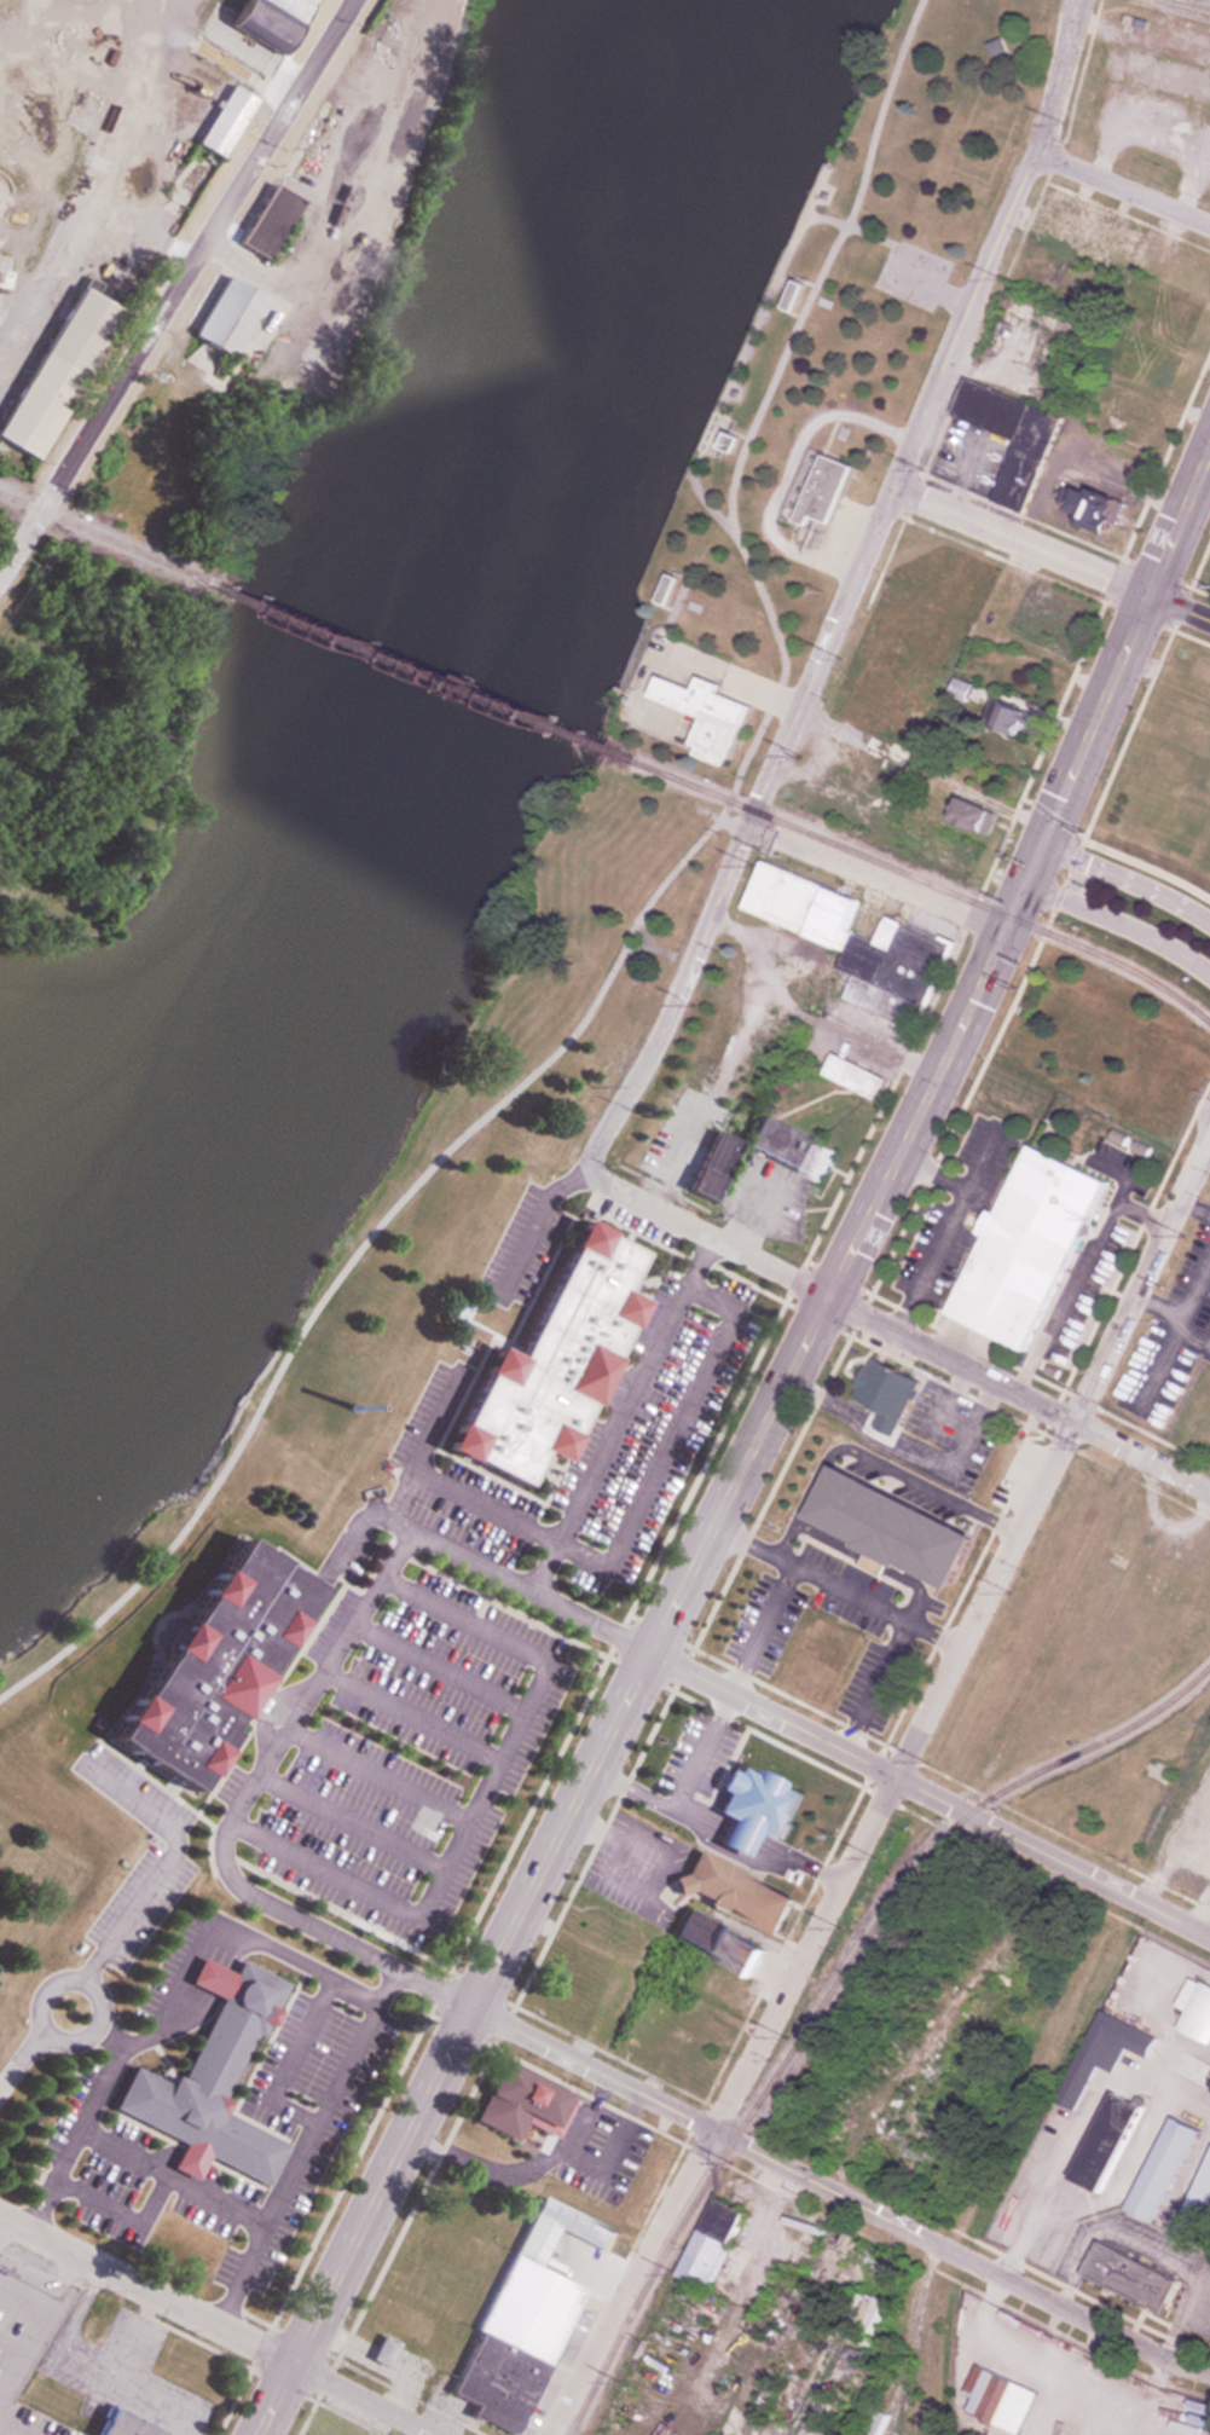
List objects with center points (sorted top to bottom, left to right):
building: (265, 21)
building: (997, 48)
building: (1168, 76)
building: (222, 122)
railway: (91, 129)
road: (1124, 190)
road: (816, 191)
building: (265, 222)
road: (869, 233)
parking lot: (913, 273)
road: (175, 289)
road: (936, 290)
building: (793, 295)
park: (852, 308)
building: (224, 318)
road: (745, 357)
building: (53, 371)
building: (1032, 372)
building: (729, 443)
building: (1116, 459)
road: (791, 470)
building: (1020, 472)
building: (822, 492)
building: (1088, 510)
railway: (102, 537)
road: (1021, 542)
building: (668, 590)
road: (849, 591)
road: (1180, 609)
road: (677, 615)
building: (922, 631)
road: (678, 655)
railway: (416, 670)
river: (427, 713)
building: (707, 716)
building: (1005, 721)
park: (658, 750)
building: (966, 816)
road: (736, 823)
railway: (925, 881)
road: (1128, 881)
road: (878, 885)
road: (637, 925)
road: (1121, 926)
road: (645, 935)
building: (850, 941)
road: (658, 950)
building: (851, 1076)
building: (786, 1147)
road: (974, 1156)
building: (708, 1167)
road: (528, 1215)
road: (939, 1225)
building: (1023, 1248)
road: (1072, 1263)
road: (1140, 1283)
park: (366, 1306)
road: (899, 1331)
building: (543, 1360)
building: (882, 1396)
chimney: (352, 1406)
road: (616, 1409)
road: (753, 1453)
building: (985, 1491)
road: (370, 1581)
building: (922, 1600)
building: (901, 1637)
building: (213, 1666)
building: (811, 1676)
road: (931, 1795)
railway: (1001, 1795)
building: (729, 1892)
road: (218, 1920)
road: (817, 1931)
building: (717, 1944)
building: (1194, 2009)
road: (85, 2038)
building: (1100, 2053)
road: (286, 2054)
road: (21, 2057)
building: (1189, 2071)
building: (208, 2080)
building: (520, 2104)
road: (76, 2122)
road: (716, 2130)
building: (1102, 2142)
road: (300, 2144)
road: (1055, 2158)
building: (1160, 2169)
road: (169, 2170)
railway: (695, 2200)
building: (1195, 2204)
road: (117, 2208)
building: (708, 2244)
building: (886, 2268)
building: (1128, 2278)
building: (521, 2320)
road: (216, 2325)
building: (859, 2330)
building: (380, 2350)
road: (18, 2367)
building: (998, 2400)
building: (118, 2425)
road: (13, 2427)
building: (1189, 2431)

